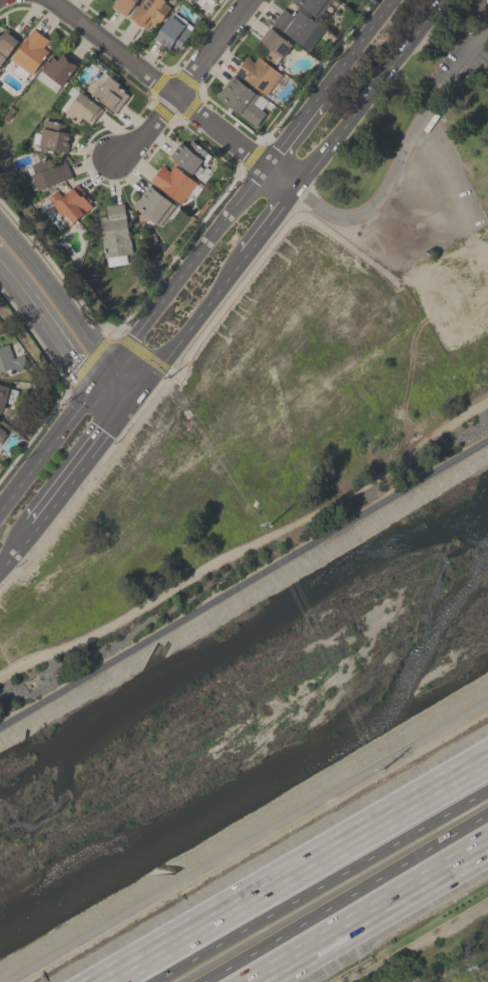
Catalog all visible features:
building: (209, 1)
building: (198, 2)
building: (123, 5)
building: (313, 6)
building: (151, 11)
building: (297, 27)
building: (173, 31)
building: (6, 44)
building: (273, 44)
road: (358, 49)
building: (29, 54)
building: (55, 71)
building: (257, 73)
road: (185, 81)
building: (106, 91)
road: (174, 93)
road: (369, 96)
building: (240, 99)
building: (79, 106)
road: (293, 134)
building: (53, 135)
road: (402, 152)
building: (189, 156)
building: (48, 173)
building: (174, 183)
park: (428, 188)
building: (69, 203)
building: (152, 205)
road: (270, 225)
building: (114, 234)
road: (197, 259)
road: (58, 297)
road: (203, 313)
road: (49, 325)
road: (108, 336)
building: (10, 360)
road: (117, 363)
traffic signals: (105, 377)
road: (147, 386)
road: (119, 390)
road: (91, 394)
building: (6, 395)
traffic signals: (134, 404)
road: (122, 419)
building: (2, 433)
road: (38, 462)
road: (74, 482)
road: (249, 545)
road: (18, 549)
road: (244, 586)
river: (244, 710)
road: (247, 842)
road: (298, 871)
road: (326, 886)
road: (345, 898)
road: (367, 910)

